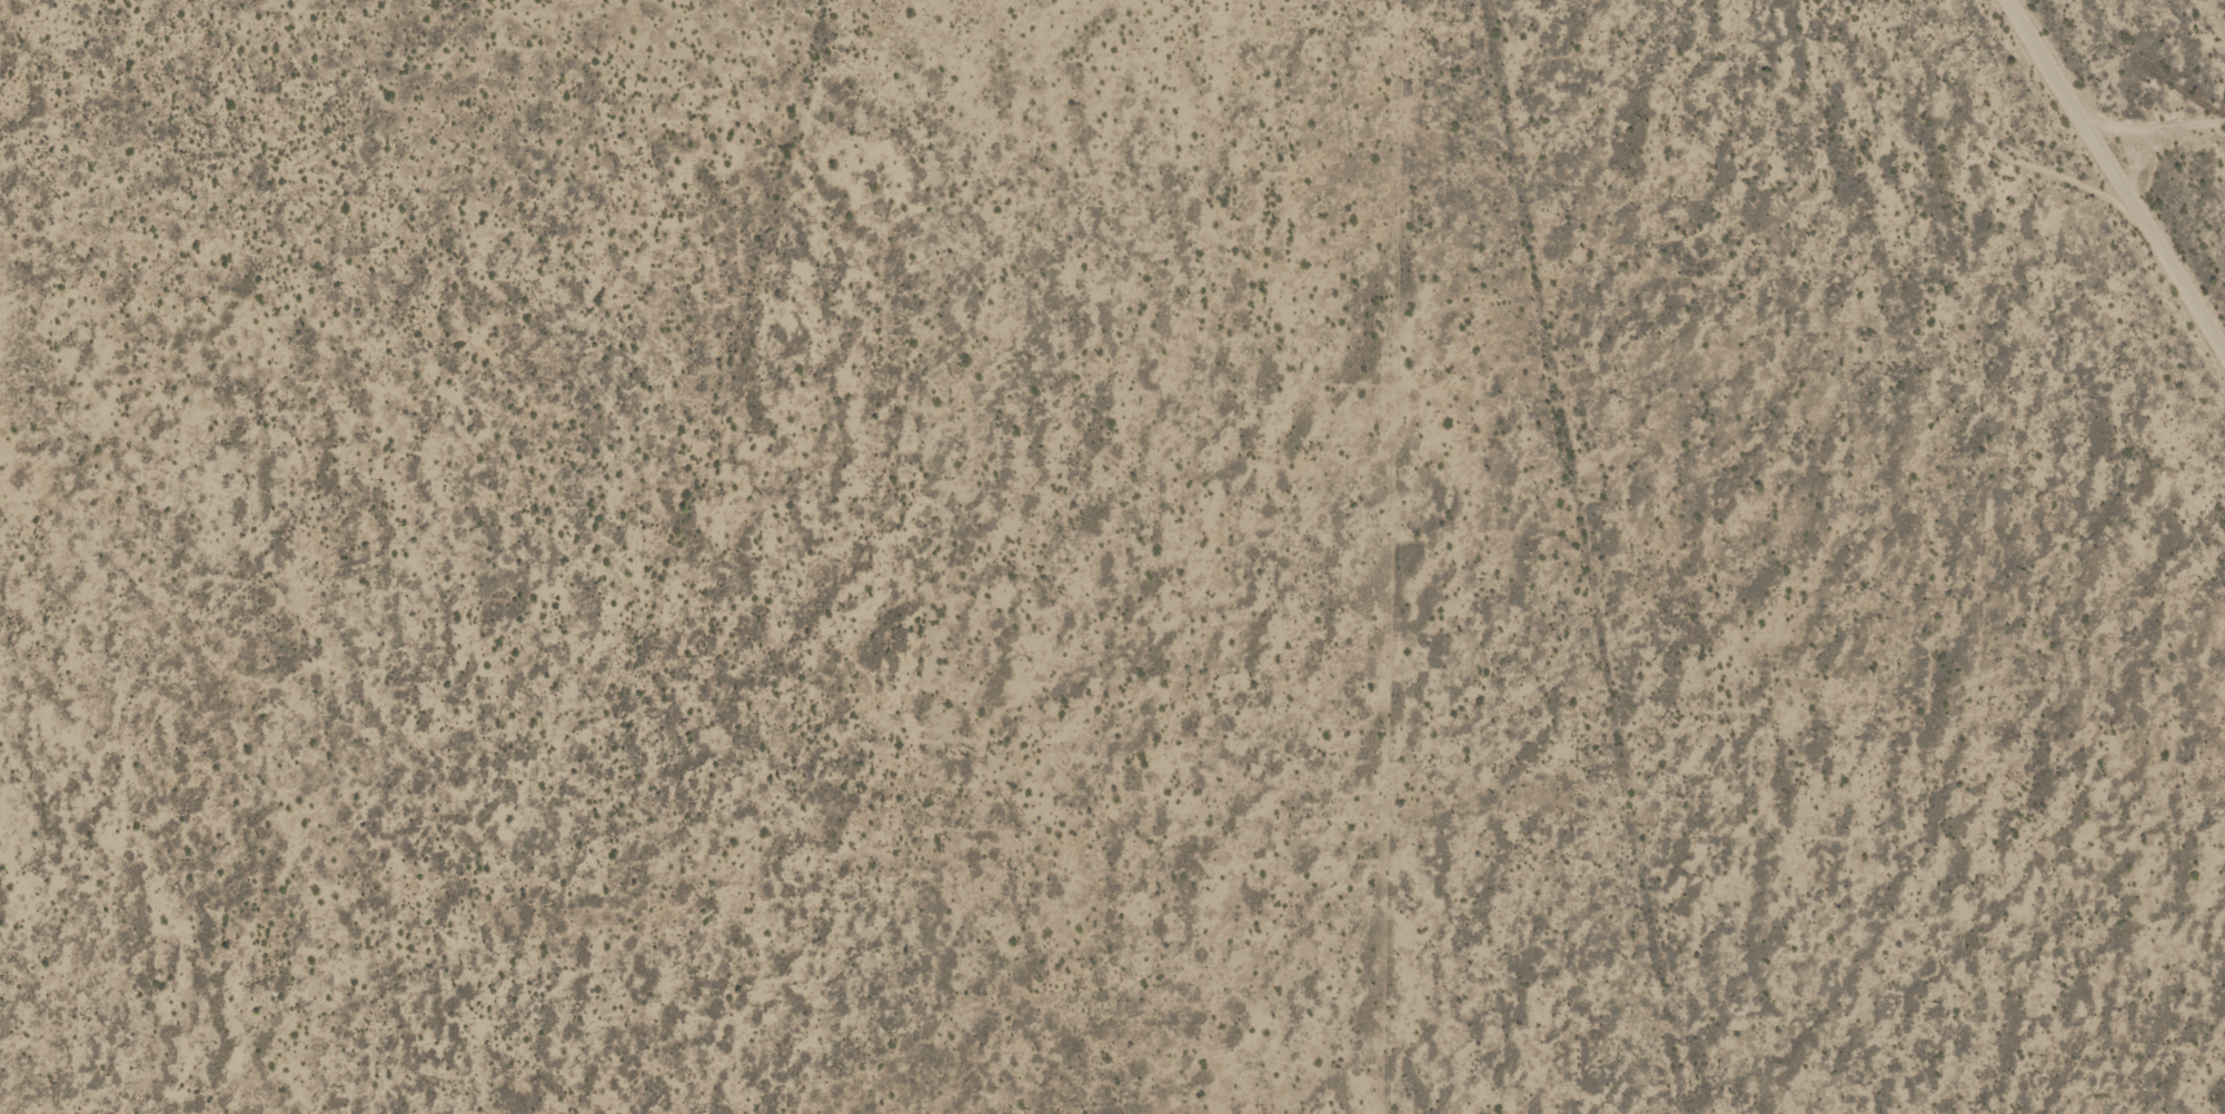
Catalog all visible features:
road: (2107, 186)

